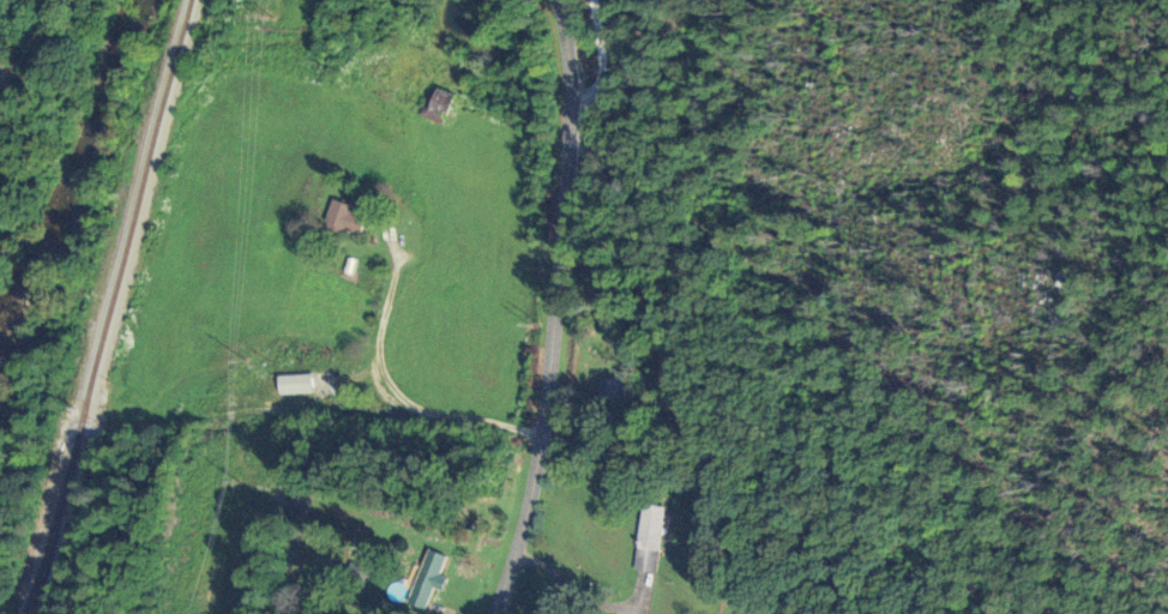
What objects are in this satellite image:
road: (597, 62)
river: (90, 187)
building: (345, 219)
railway: (107, 306)
road: (549, 309)
building: (296, 386)
building: (615, 389)
road: (381, 392)
building: (651, 541)
railway: (37, 560)
building: (429, 580)
road: (583, 596)

